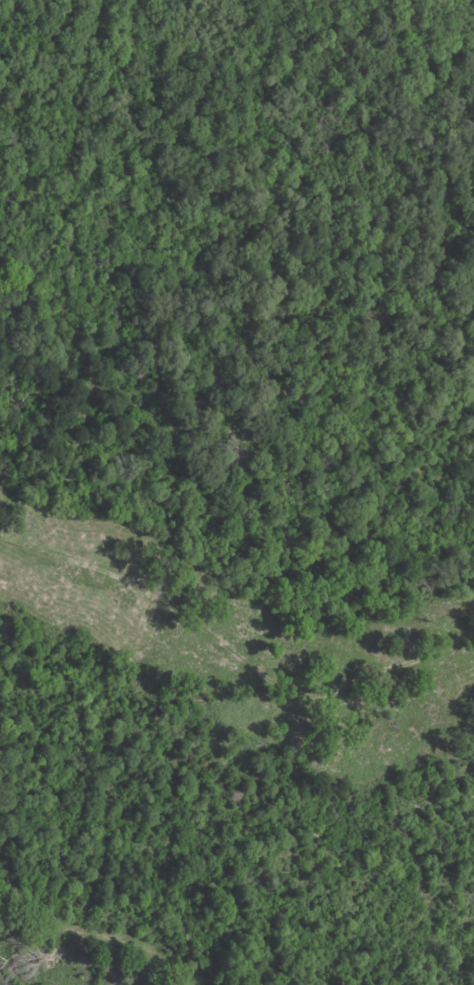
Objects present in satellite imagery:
road: (232, 651)

